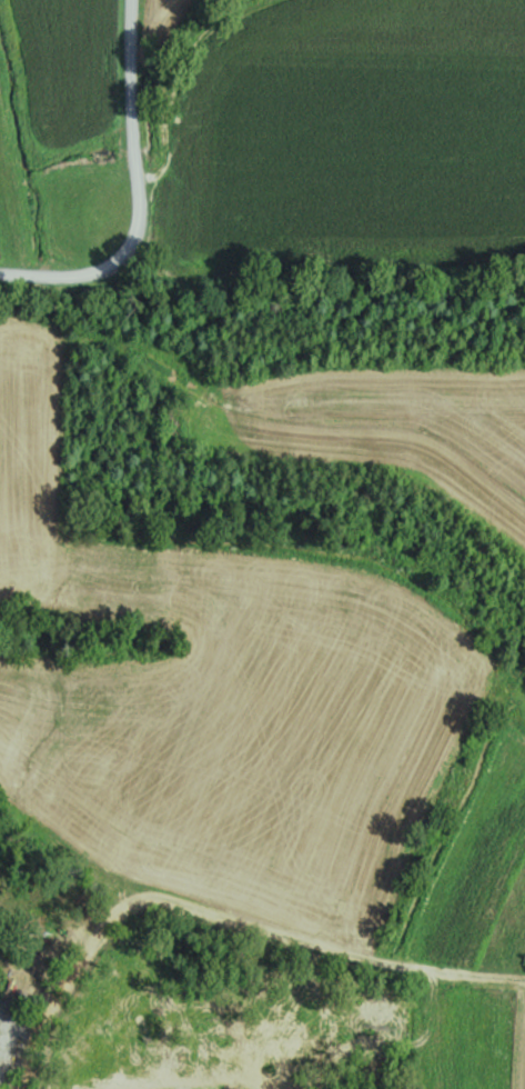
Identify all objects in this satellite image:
road: (184, 72)
road: (138, 138)
road: (70, 274)
road: (224, 916)

